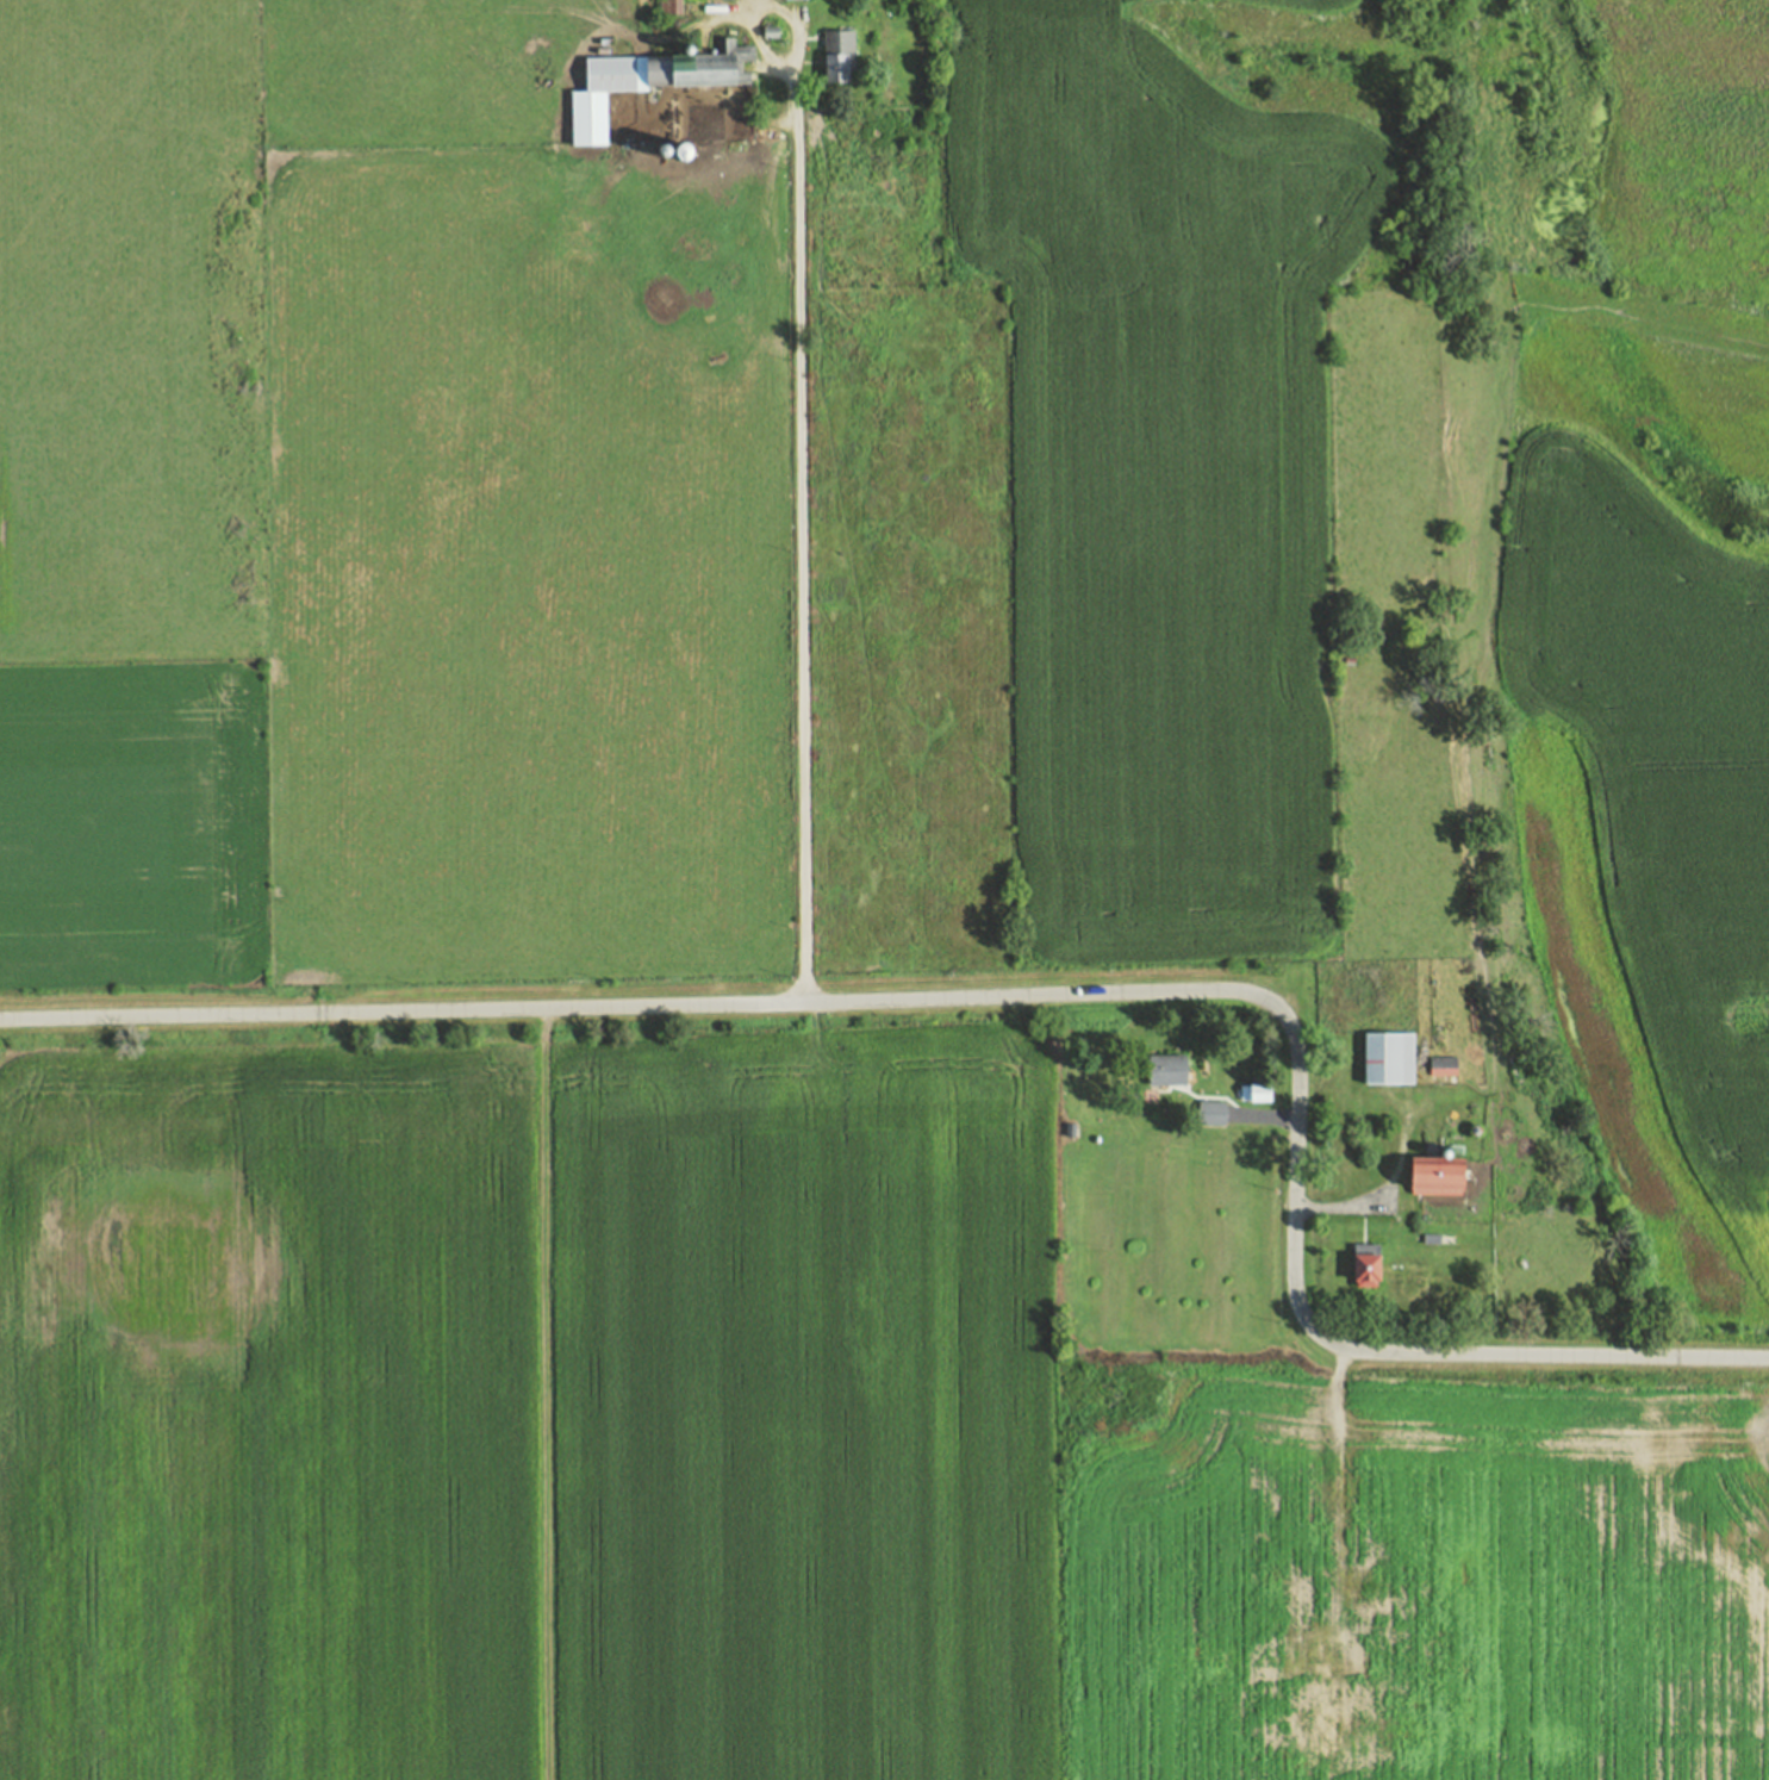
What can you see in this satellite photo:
building: (667, 7)
building: (768, 33)
building: (836, 55)
building: (643, 81)
building: (667, 150)
silo: (667, 150)
building: (685, 151)
silo: (685, 151)
road: (799, 446)
road: (1036, 995)
building: (1384, 1057)
building: (1441, 1065)
building: (1164, 1068)
building: (1251, 1091)
building: (1208, 1113)
road: (1264, 1115)
building: (1433, 1175)
road: (1382, 1188)
building: (1431, 1238)
building: (1363, 1265)
road: (1338, 1492)
building: (1289, 1592)
building: (1369, 1597)
building: (1338, 1655)
building: (1214, 1661)
building: (1308, 1693)

